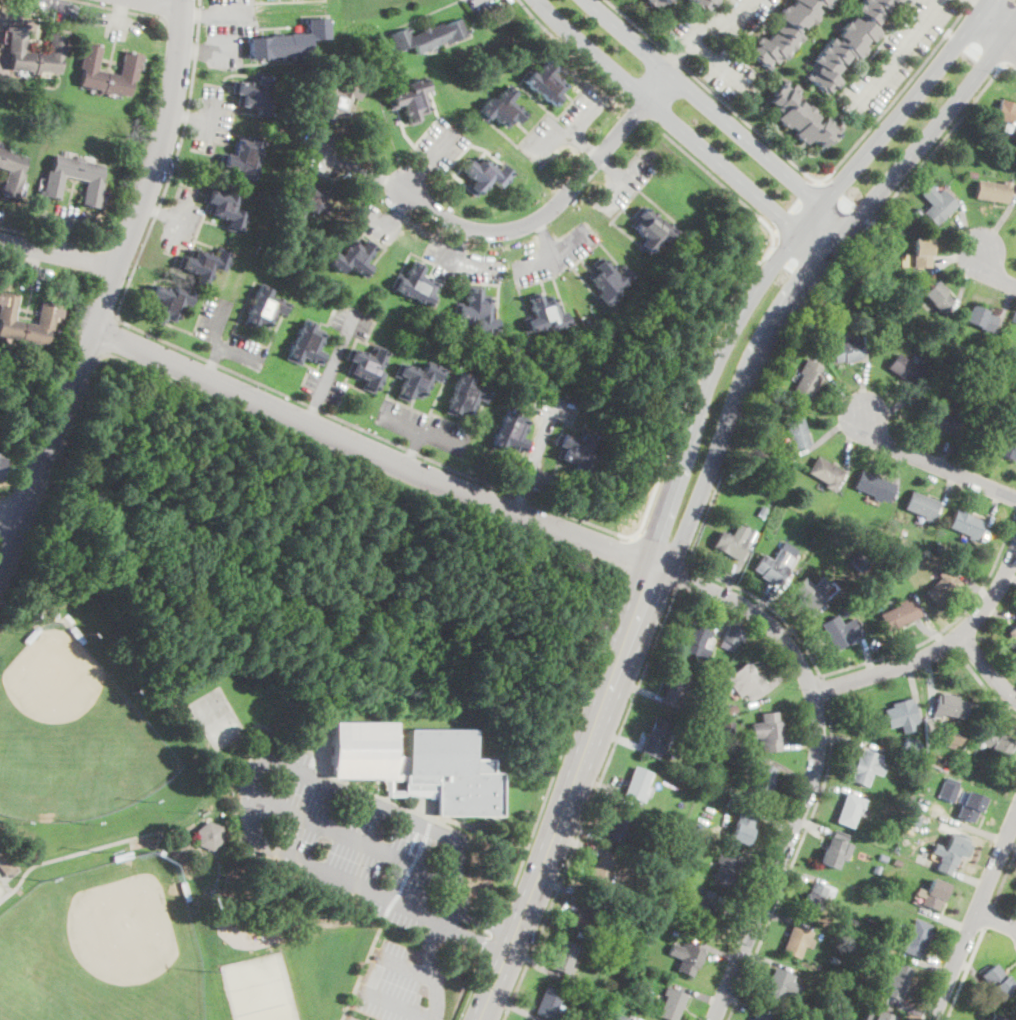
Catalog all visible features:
building: (656, 2)
road: (163, 3)
building: (703, 3)
parking lot: (480, 5)
road: (973, 5)
road: (984, 6)
road: (119, 10)
road: (195, 11)
road: (230, 13)
road: (182, 21)
parking lot: (722, 23)
road: (993, 23)
road: (702, 27)
building: (786, 30)
parking lot: (227, 31)
road: (1011, 35)
building: (429, 36)
building: (288, 41)
road: (1011, 41)
building: (849, 42)
building: (17, 43)
road: (201, 49)
road: (901, 49)
road: (572, 53)
parking lot: (899, 53)
road: (1009, 54)
road: (717, 64)
building: (129, 69)
road: (1009, 69)
parking lot: (729, 75)
building: (545, 82)
road: (713, 91)
building: (254, 94)
road: (899, 94)
building: (337, 99)
building: (414, 99)
building: (502, 108)
road: (637, 110)
road: (208, 111)
road: (580, 113)
road: (188, 114)
building: (1006, 114)
road: (719, 115)
building: (802, 117)
parking lot: (562, 127)
road: (568, 128)
road: (682, 130)
parking lot: (441, 144)
road: (429, 156)
building: (244, 159)
road: (355, 165)
road: (611, 167)
building: (12, 172)
building: (973, 174)
building: (485, 175)
road: (713, 175)
road: (621, 178)
building: (53, 181)
parking lot: (621, 184)
building: (992, 190)
road: (830, 195)
building: (304, 198)
road: (558, 204)
building: (935, 205)
building: (226, 208)
road: (798, 210)
road: (160, 211)
parking lot: (181, 218)
road: (178, 219)
road: (392, 219)
parking lot: (376, 223)
building: (650, 229)
road: (52, 237)
road: (544, 237)
road: (455, 250)
road: (122, 253)
road: (552, 253)
building: (921, 253)
road: (58, 254)
parking lot: (554, 255)
building: (352, 258)
parking lot: (444, 259)
building: (204, 265)
building: (861, 266)
parking lot: (479, 267)
road: (995, 271)
road: (808, 277)
building: (609, 280)
road: (108, 286)
building: (417, 286)
road: (811, 294)
building: (937, 296)
building: (169, 303)
building: (265, 307)
building: (477, 311)
building: (47, 315)
building: (545, 315)
building: (980, 319)
building: (885, 320)
building: (868, 321)
parking lot: (208, 333)
road: (113, 336)
building: (929, 341)
road: (219, 342)
building: (306, 344)
parking lot: (339, 348)
building: (847, 350)
road: (336, 356)
road: (214, 361)
building: (367, 368)
road: (228, 369)
building: (904, 369)
road: (692, 376)
building: (416, 380)
building: (807, 380)
building: (1013, 386)
building: (465, 396)
building: (1015, 399)
building: (1015, 404)
parking lot: (556, 409)
road: (311, 410)
building: (941, 420)
parking lot: (424, 427)
road: (421, 433)
building: (510, 433)
building: (796, 433)
building: (1007, 442)
road: (541, 447)
road: (412, 450)
road: (372, 452)
building: (577, 453)
building: (0, 460)
road: (934, 464)
building: (826, 473)
road: (674, 479)
road: (403, 484)
building: (873, 486)
road: (518, 502)
building: (920, 506)
building: (762, 511)
road: (9, 516)
building: (965, 524)
building: (818, 534)
building: (734, 541)
road: (625, 556)
building: (859, 562)
building: (773, 567)
road: (682, 576)
building: (942, 586)
building: (810, 592)
building: (851, 602)
road: (768, 605)
building: (900, 614)
road: (945, 629)
building: (839, 631)
building: (1012, 633)
building: (31, 635)
building: (76, 635)
building: (731, 637)
building: (696, 639)
road: (948, 641)
road: (938, 649)
road: (987, 668)
building: (745, 681)
road: (984, 685)
building: (676, 689)
road: (825, 689)
park: (209, 705)
building: (948, 706)
building: (729, 710)
building: (901, 716)
building: (710, 723)
building: (968, 724)
park: (268, 726)
park: (223, 729)
building: (728, 729)
building: (768, 732)
park: (72, 733)
building: (656, 737)
building: (949, 737)
building: (997, 742)
building: (911, 746)
building: (362, 748)
road: (815, 760)
building: (945, 762)
building: (866, 767)
building: (915, 767)
building: (453, 771)
building: (697, 771)
building: (712, 780)
building: (760, 780)
building: (637, 784)
building: (948, 789)
road: (569, 794)
building: (906, 798)
building: (706, 799)
road: (590, 803)
building: (732, 804)
building: (967, 805)
building: (850, 809)
road: (419, 813)
road: (400, 816)
building: (896, 817)
building: (678, 820)
building: (692, 822)
building: (912, 823)
building: (620, 827)
building: (741, 828)
building: (209, 836)
road: (351, 836)
building: (683, 848)
road: (86, 849)
building: (833, 849)
building: (949, 850)
building: (123, 856)
building: (882, 858)
road: (304, 861)
road: (793, 862)
building: (5, 863)
building: (897, 863)
building: (877, 868)
building: (724, 871)
parking lot: (365, 872)
building: (599, 872)
road: (1004, 878)
park: (2, 888)
building: (185, 891)
building: (933, 893)
building: (664, 894)
building: (816, 897)
building: (865, 905)
building: (704, 913)
building: (860, 914)
building: (583, 916)
road: (974, 918)
road: (988, 918)
road: (996, 919)
road: (436, 933)
building: (895, 936)
road: (493, 937)
building: (915, 938)
building: (797, 940)
building: (644, 942)
park: (103, 947)
building: (875, 954)
building: (685, 956)
building: (563, 957)
building: (620, 963)
road: (405, 964)
building: (632, 964)
road: (965, 975)
building: (850, 976)
park: (272, 979)
building: (896, 982)
building: (997, 982)
building: (782, 985)
park: (241, 986)
road: (472, 989)
building: (548, 1003)
road: (398, 1004)
building: (671, 1004)
building: (819, 1005)
building: (1014, 1009)
park: (281, 1011)
park: (251, 1015)
building: (814, 1015)
building: (875, 1015)
building: (762, 1016)
building: (997, 1016)
building: (618, 1017)

